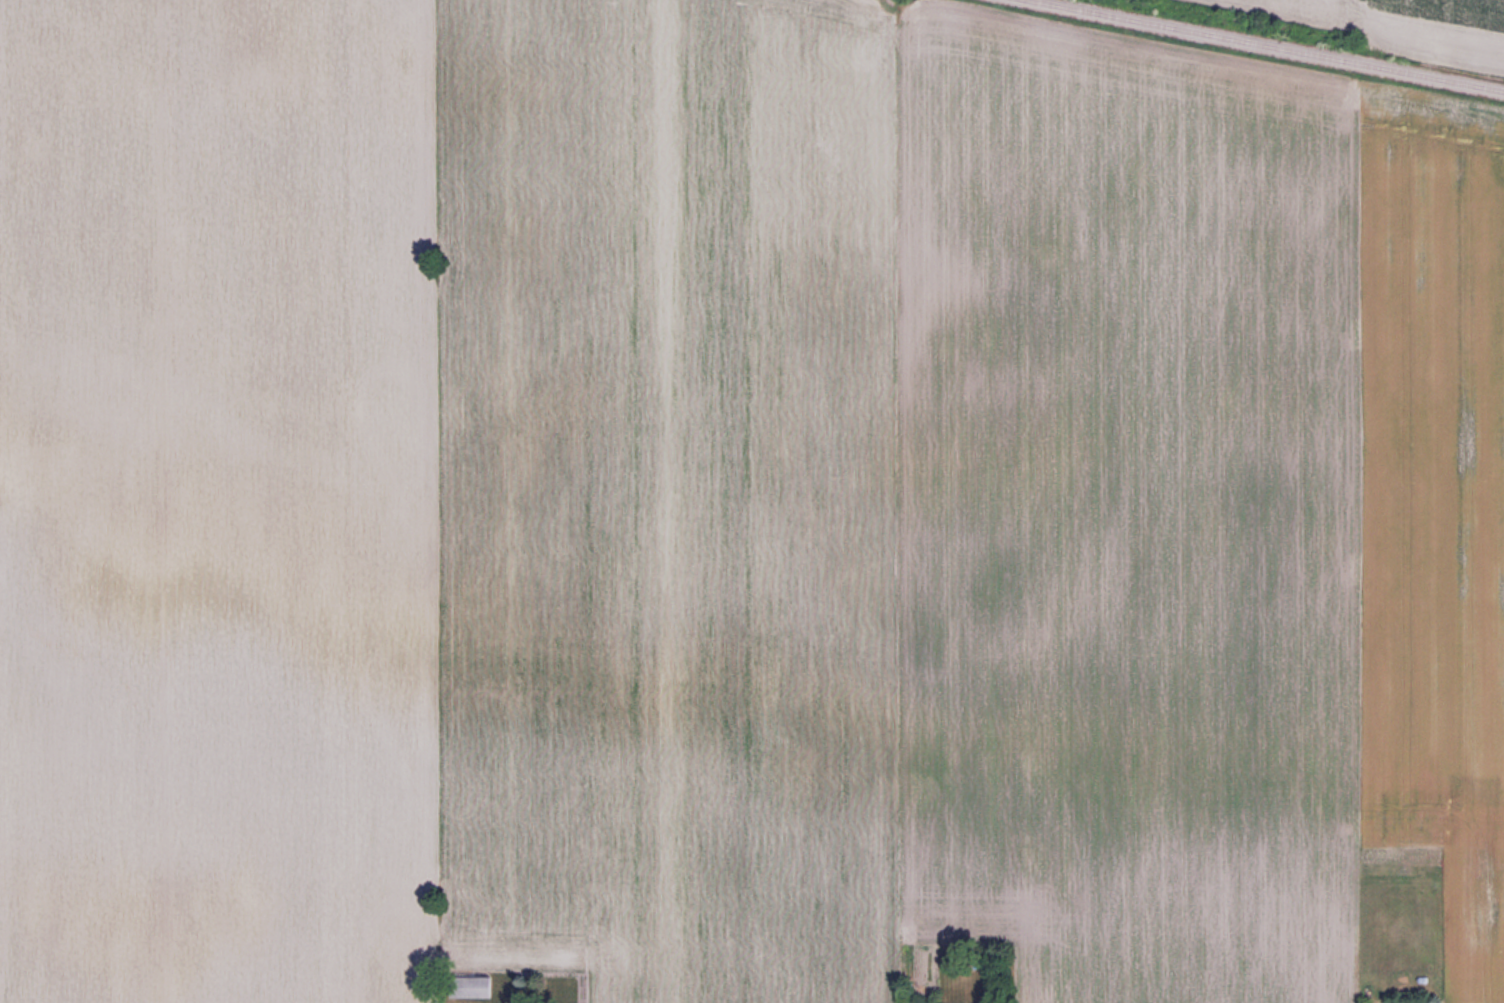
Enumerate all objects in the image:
railway: (1263, 46)

